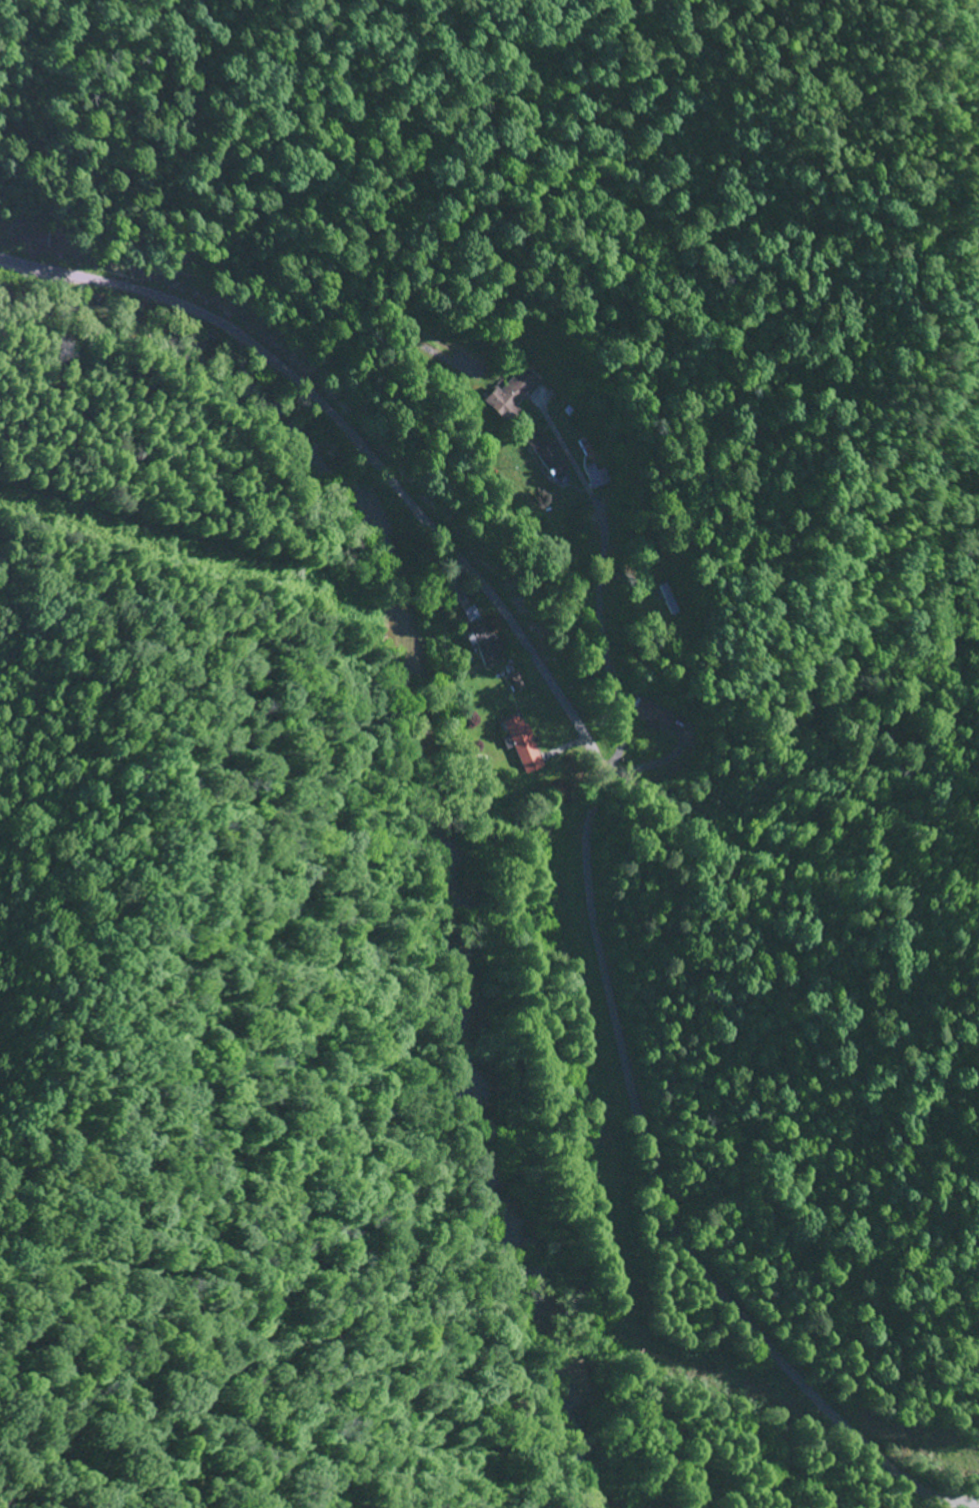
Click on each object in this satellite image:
building: (511, 394)
building: (587, 449)
building: (545, 455)
building: (472, 614)
road: (648, 631)
building: (485, 645)
building: (655, 715)
building: (522, 744)
road: (638, 782)
river: (433, 797)
road: (600, 799)

